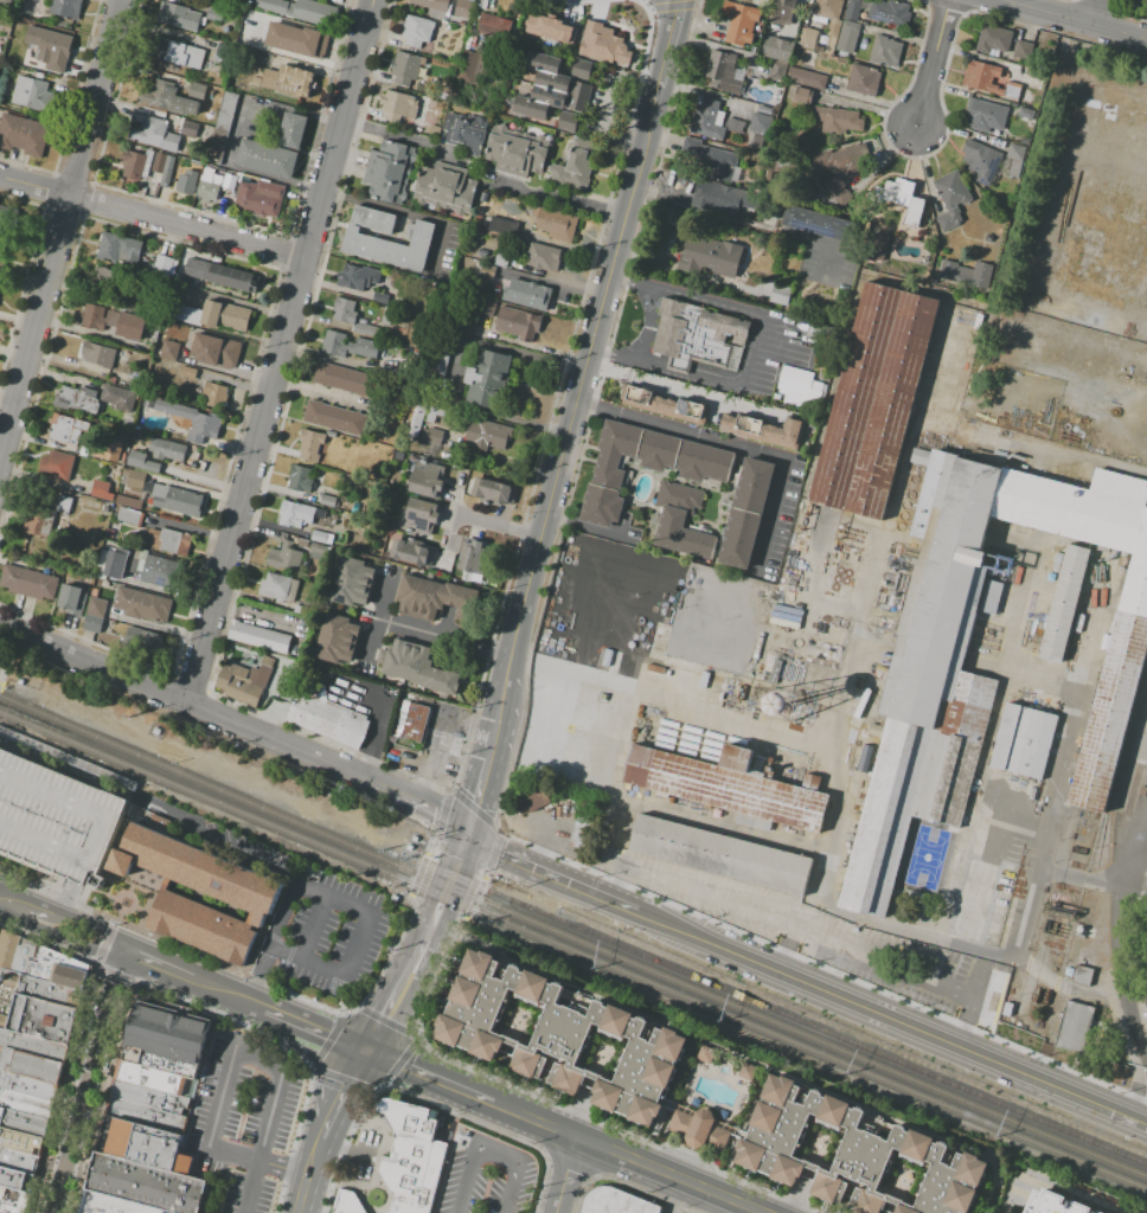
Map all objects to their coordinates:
building: (1141, 1)
building: (8, 2)
park: (1066, 2)
building: (237, 6)
building: (432, 7)
building: (65, 8)
building: (463, 8)
building: (826, 8)
building: (297, 9)
building: (852, 9)
building: (782, 11)
building: (889, 13)
road: (1094, 13)
building: (213, 14)
building: (179, 17)
building: (549, 20)
road: (1071, 20)
building: (739, 23)
building: (494, 26)
building: (417, 31)
building: (806, 38)
building: (847, 38)
building: (993, 38)
building: (296, 39)
road: (669, 43)
building: (53, 47)
building: (610, 49)
building: (781, 50)
building: (1020, 50)
building: (885, 51)
building: (184, 54)
building: (222, 54)
road: (930, 65)
building: (469, 66)
building: (405, 68)
building: (776, 70)
building: (722, 71)
building: (559, 76)
building: (806, 78)
building: (284, 79)
building: (988, 79)
building: (863, 81)
building: (196, 90)
building: (32, 94)
building: (802, 95)
building: (166, 98)
building: (547, 103)
building: (397, 104)
building: (1025, 114)
building: (983, 116)
building: (707, 120)
building: (837, 120)
building: (760, 123)
building: (220, 126)
building: (568, 126)
building: (188, 128)
building: (9, 129)
building: (291, 130)
building: (462, 131)
building: (154, 133)
building: (32, 136)
road: (403, 140)
building: (517, 152)
building: (391, 156)
building: (265, 159)
building: (711, 160)
building: (1015, 160)
building: (150, 161)
building: (980, 161)
building: (160, 163)
building: (132, 165)
building: (841, 166)
building: (167, 172)
building: (572, 172)
building: (228, 181)
building: (184, 184)
building: (384, 184)
building: (209, 185)
building: (443, 188)
building: (269, 190)
road: (553, 197)
building: (726, 198)
building: (950, 199)
building: (255, 201)
building: (905, 201)
road: (153, 217)
building: (7, 220)
road: (744, 223)
building: (818, 224)
building: (502, 225)
building: (555, 225)
road: (59, 229)
building: (365, 240)
building: (109, 246)
building: (1, 251)
building: (129, 251)
building: (710, 256)
building: (501, 257)
building: (160, 258)
building: (543, 258)
building: (1, 265)
building: (789, 265)
building: (487, 272)
building: (967, 272)
building: (220, 276)
building: (105, 278)
building: (358, 278)
building: (530, 295)
building: (780, 295)
building: (392, 301)
flagpole: (633, 303)
building: (153, 304)
building: (344, 309)
building: (486, 309)
building: (214, 313)
building: (186, 314)
building: (92, 316)
building: (237, 319)
building: (124, 325)
road: (648, 325)
building: (517, 326)
building: (366, 328)
building: (698, 336)
building: (348, 346)
building: (210, 347)
building: (169, 351)
building: (229, 352)
road: (282, 352)
building: (97, 354)
building: (442, 357)
road: (745, 357)
road: (584, 371)
building: (187, 372)
building: (824, 372)
building: (405, 373)
building: (328, 374)
building: (110, 379)
building: (486, 379)
building: (134, 381)
building: (359, 384)
road: (683, 389)
building: (801, 390)
road: (8, 394)
building: (213, 396)
building: (118, 398)
building: (81, 399)
building: (873, 400)
building: (148, 404)
building: (661, 404)
building: (318, 413)
building: (432, 413)
building: (192, 419)
building: (127, 421)
building: (347, 422)
building: (415, 422)
building: (66, 429)
building: (764, 430)
building: (488, 434)
building: (136, 436)
building: (432, 437)
building: (309, 445)
road: (738, 445)
building: (107, 449)
building: (167, 449)
building: (141, 461)
building: (56, 464)
building: (646, 464)
building: (135, 479)
building: (300, 479)
building: (427, 479)
building: (102, 490)
building: (493, 492)
building: (130, 498)
building: (175, 500)
building: (328, 501)
building: (62, 503)
building: (295, 513)
building: (745, 513)
building: (130, 516)
building: (421, 518)
building: (33, 520)
building: (680, 521)
road: (502, 527)
building: (109, 533)
building: (321, 538)
building: (168, 540)
building: (316, 551)
building: (412, 553)
building: (474, 556)
building: (286, 557)
building: (115, 564)
building: (133, 564)
building: (159, 571)
building: (355, 571)
building: (15, 578)
building: (43, 585)
building: (274, 586)
building: (94, 591)
building: (350, 592)
road: (384, 595)
building: (415, 595)
building: (435, 597)
building: (467, 598)
building: (72, 599)
building: (991, 599)
building: (1064, 602)
building: (141, 604)
building: (96, 606)
building: (94, 622)
building: (1078, 623)
building: (346, 629)
road: (435, 634)
building: (264, 637)
road: (378, 640)
building: (146, 641)
building: (340, 650)
building: (813, 650)
building: (831, 656)
building: (403, 657)
building: (605, 657)
road: (2, 661)
building: (424, 663)
road: (95, 665)
building: (654, 668)
road: (2, 669)
building: (607, 676)
building: (448, 680)
building: (704, 680)
building: (249, 682)
building: (731, 687)
building: (937, 695)
water tower: (784, 705)
road: (498, 707)
building: (331, 714)
building: (417, 724)
building: (1024, 742)
road: (331, 764)
building: (731, 788)
road: (478, 796)
building: (537, 800)
road: (1143, 813)
building: (55, 815)
parking lot: (55, 815)
building: (581, 832)
road: (1025, 832)
traffic signals: (467, 833)
road: (1042, 851)
building: (720, 855)
road: (1138, 855)
road: (251, 862)
road: (537, 865)
railway: (1108, 867)
road: (993, 869)
building: (146, 878)
road: (435, 883)
road: (1133, 897)
building: (393, 898)
road: (65, 899)
building: (248, 899)
road: (14, 903)
railway: (1130, 911)
road: (43, 914)
road: (1113, 925)
road: (315, 926)
parking lot: (335, 932)
road: (90, 935)
road: (806, 935)
road: (788, 938)
railway: (572, 939)
road: (270, 942)
road: (361, 945)
road: (431, 949)
railway: (573, 951)
building: (25, 956)
road: (164, 967)
building: (69, 971)
building: (1081, 974)
building: (1146, 987)
road: (380, 989)
building: (49, 991)
road: (230, 995)
road: (878, 1007)
railway: (782, 1014)
building: (41, 1020)
road: (312, 1027)
building: (1077, 1027)
building: (169, 1032)
building: (32, 1046)
traffic signals: (363, 1047)
road: (229, 1051)
building: (705, 1054)
building: (31, 1065)
building: (159, 1071)
building: (746, 1071)
road: (434, 1076)
road: (86, 1080)
building: (642, 1082)
road: (1142, 1085)
road: (337, 1090)
building: (26, 1092)
building: (149, 1106)
parking lot: (245, 1119)
building: (24, 1122)
street lamp: (352, 1125)
building: (20, 1142)
building: (141, 1143)
road: (341, 1147)
road: (489, 1148)
building: (410, 1156)
road: (633, 1159)
building: (19, 1161)
road: (282, 1166)
road: (308, 1174)
road: (565, 1174)
parking lot: (481, 1175)
building: (15, 1180)
road: (623, 1183)
building: (145, 1185)
road: (248, 1186)
road: (1050, 1189)
road: (674, 1195)
fountain: (374, 1198)
building: (12, 1200)
building: (345, 1202)
building: (615, 1202)
building: (1049, 1204)
building: (111, 1205)

